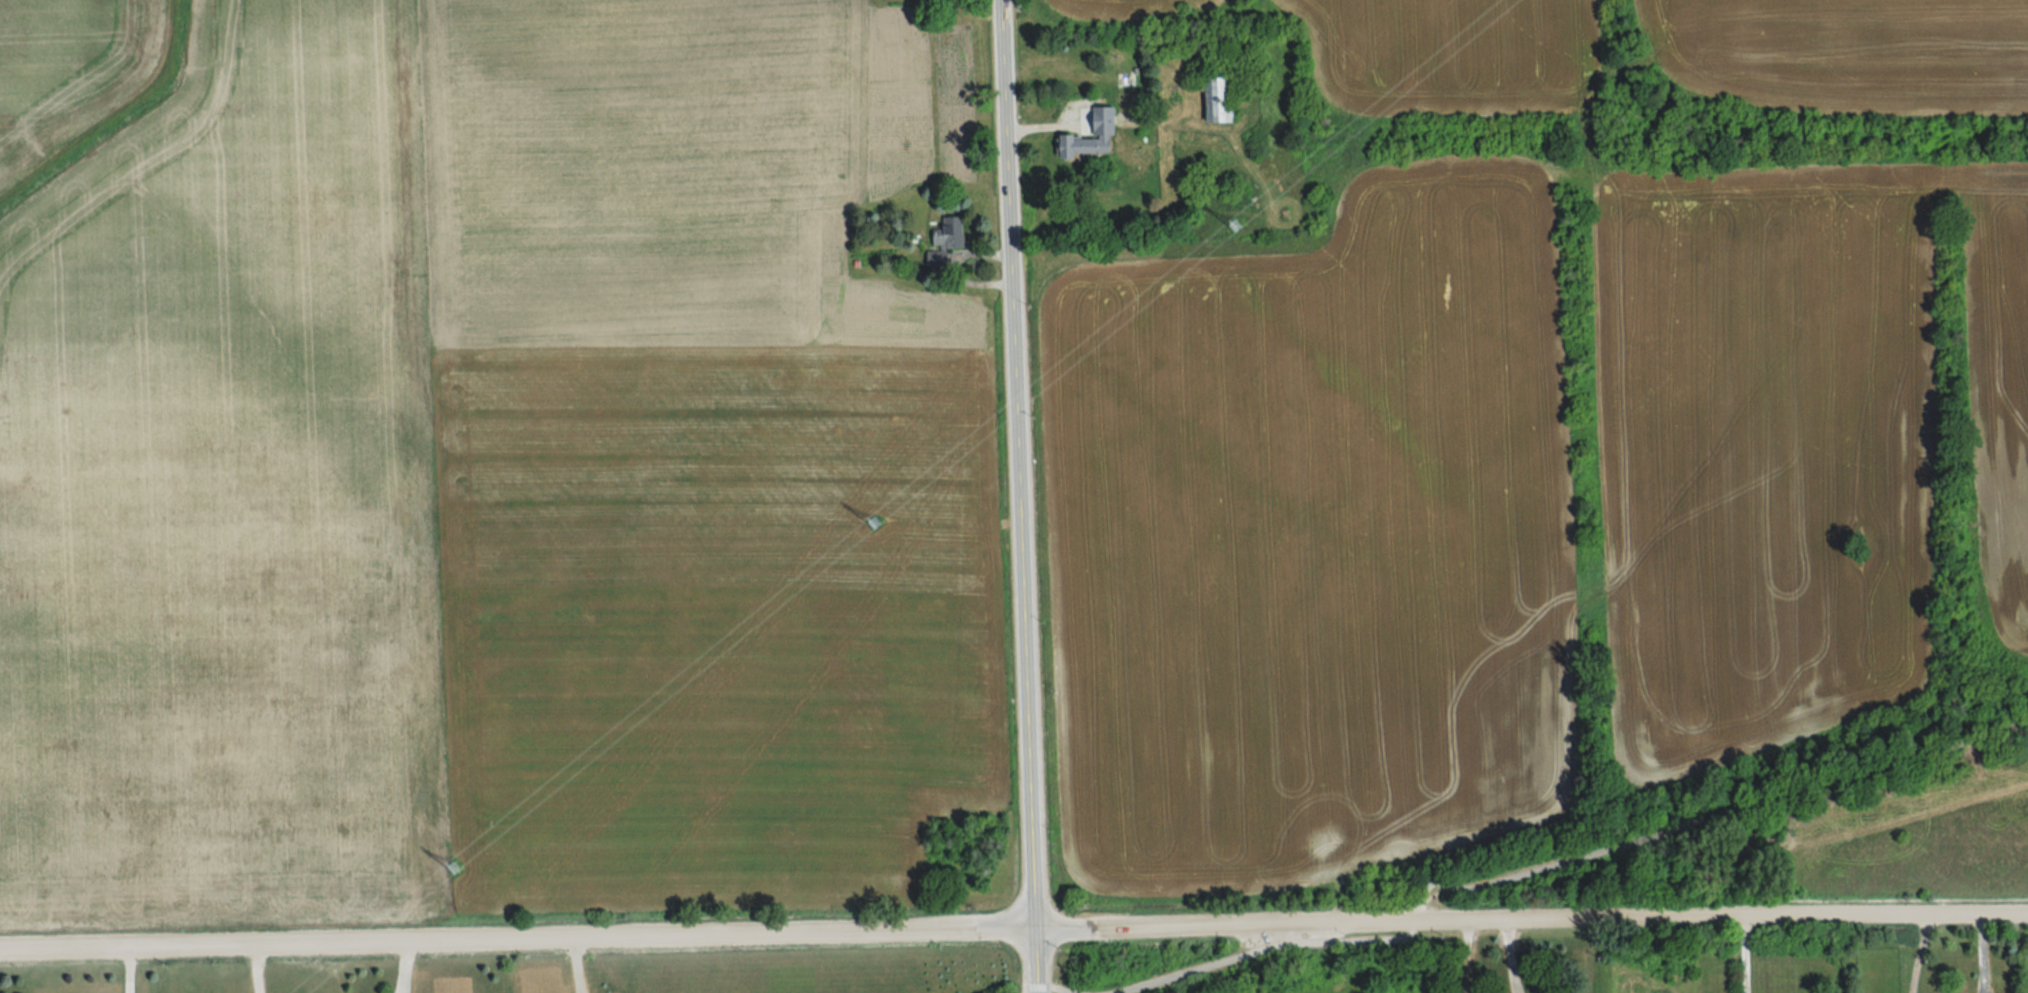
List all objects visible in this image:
crop: (1134, 8)
crop: (1450, 53)
crop: (1845, 54)
crop: (67, 73)
building: (1223, 98)
building: (1084, 145)
power tower: (1236, 229)
building: (952, 232)
crop: (1788, 444)
road: (1017, 465)
crop: (492, 477)
power tower: (876, 524)
crop: (1313, 541)
road: (1563, 863)
power tower: (455, 867)
road: (1530, 922)
road: (517, 942)
road: (1921, 956)
road: (1745, 957)
road: (1516, 958)
road: (1035, 960)
road: (579, 967)
road: (261, 970)
road: (1044, 988)
crop: (1332, 989)
road: (1037, 991)

